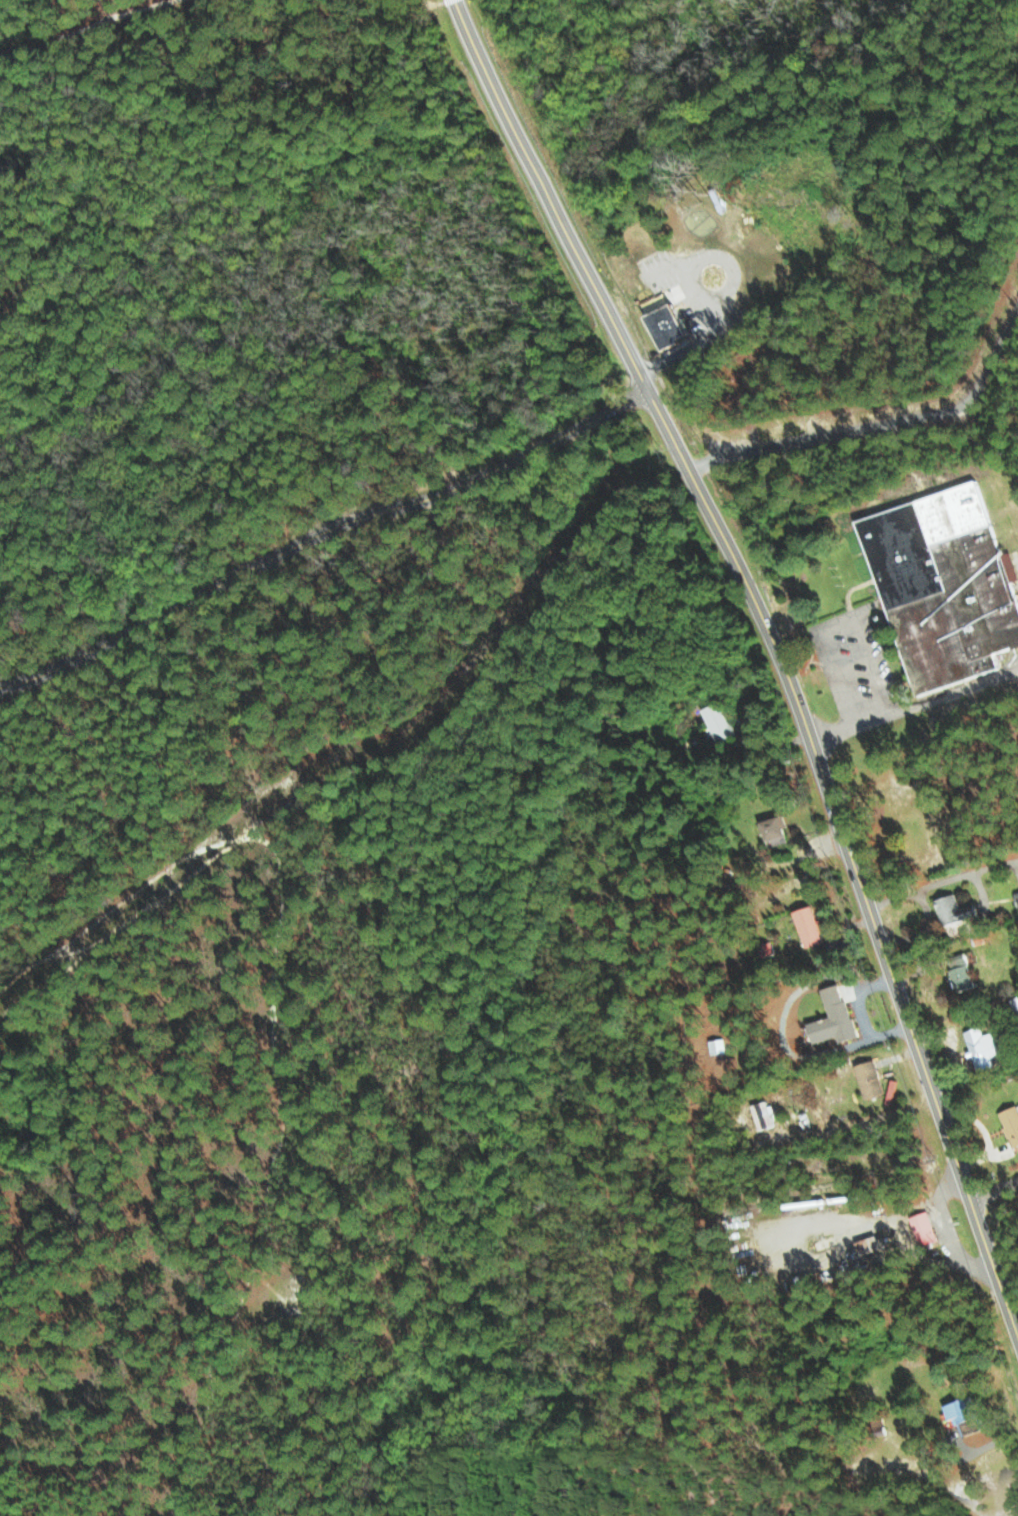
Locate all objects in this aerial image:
road: (499, 109)
road: (558, 225)
wastewater plant: (695, 322)
building: (674, 325)
wastewater plant: (713, 389)
park: (285, 405)
road: (319, 536)
road: (837, 625)
building: (723, 722)
road: (850, 728)
road: (818, 774)
building: (779, 829)
building: (1017, 891)
building: (956, 910)
building: (811, 926)
building: (963, 977)
building: (848, 991)
building: (1015, 1005)
building: (837, 1019)
building: (983, 1048)
building: (872, 1080)
building: (766, 1114)
building: (1012, 1122)
building: (925, 1228)
building: (871, 1243)
building: (965, 1409)

